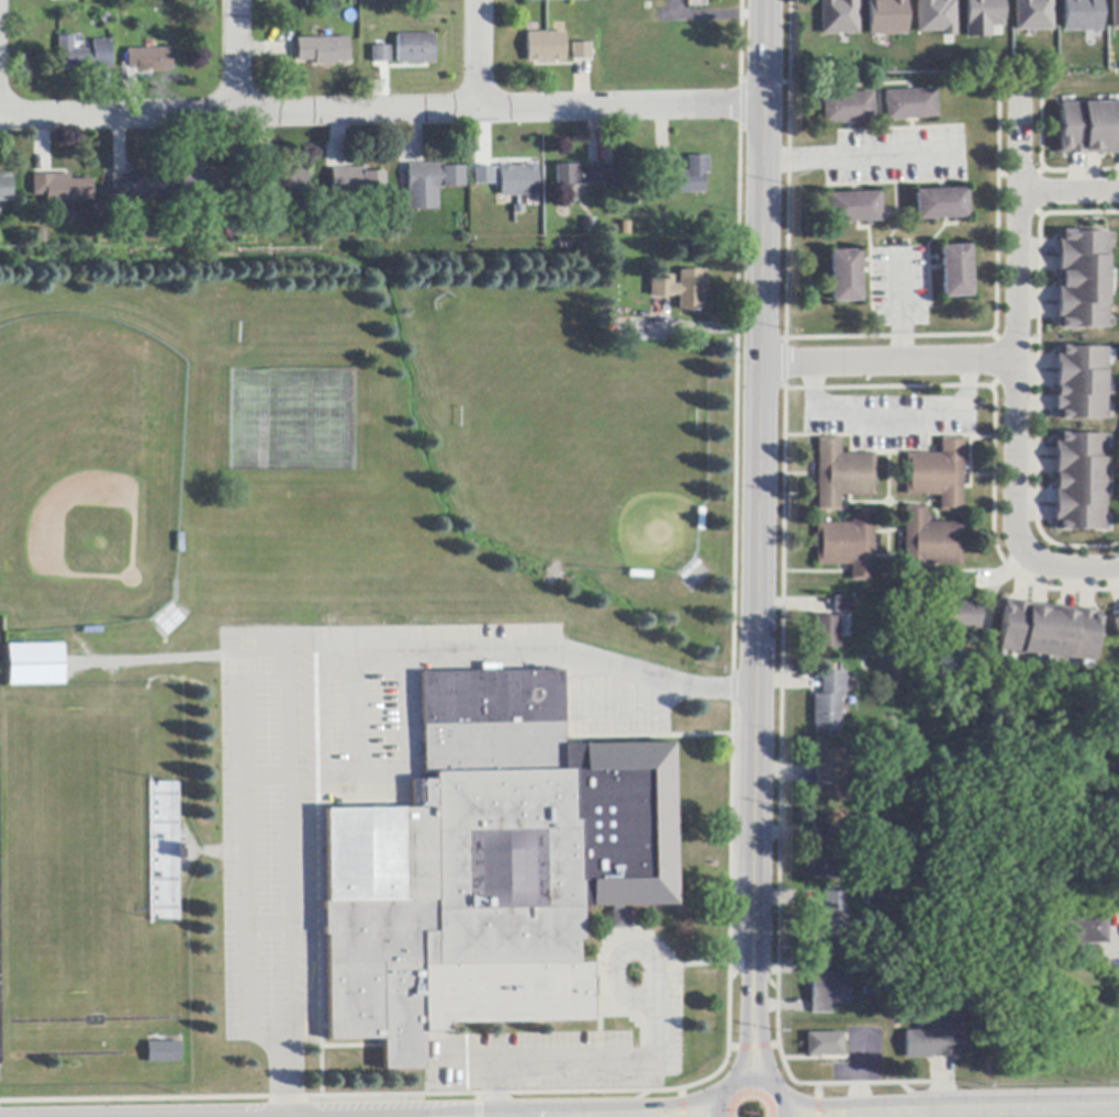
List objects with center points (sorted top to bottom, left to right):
building: (1031, 14)
building: (1079, 14)
building: (837, 15)
building: (1114, 15)
building: (885, 16)
building: (933, 16)
building: (982, 18)
building: (548, 47)
building: (416, 49)
building: (323, 51)
building: (583, 52)
road: (481, 54)
building: (381, 55)
building: (83, 56)
road: (237, 56)
building: (149, 59)
building: (911, 104)
building: (848, 108)
road: (379, 110)
building: (1089, 129)
road: (859, 156)
building: (484, 176)
building: (589, 176)
building: (690, 177)
building: (518, 181)
building: (281, 182)
building: (356, 182)
building: (430, 183)
building: (137, 186)
building: (208, 186)
building: (4, 188)
building: (61, 190)
road: (1068, 191)
building: (941, 204)
building: (853, 208)
building: (590, 225)
building: (954, 271)
building: (844, 276)
building: (1083, 280)
building: (683, 289)
road: (897, 305)
road: (1012, 332)
road: (884, 362)
building: (1081, 383)
road: (889, 412)
building: (1118, 439)
park: (89, 463)
building: (938, 474)
building: (842, 476)
park: (615, 477)
building: (1079, 482)
building: (700, 520)
road: (757, 540)
building: (929, 544)
building: (848, 545)
road: (1078, 567)
building: (640, 574)
building: (843, 605)
building: (964, 616)
building: (1116, 619)
building: (1049, 632)
building: (828, 633)
building: (34, 666)
road: (351, 684)
park: (999, 692)
building: (829, 705)
building: (830, 774)
building: (178, 852)
building: (824, 852)
building: (490, 867)
building: (879, 901)
building: (835, 903)
building: (992, 927)
building: (1084, 929)
building: (828, 935)
road: (619, 957)
building: (828, 990)
building: (937, 1038)
building: (825, 1045)
building: (164, 1052)
road: (577, 1058)
road: (749, 1082)
road: (950, 1110)
road: (1077, 1113)
road: (668, 1116)

